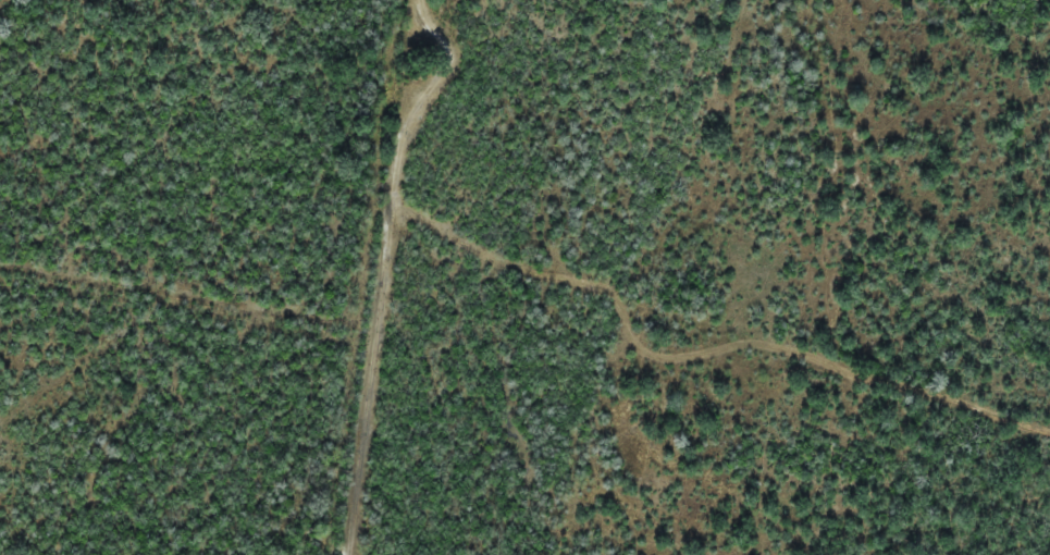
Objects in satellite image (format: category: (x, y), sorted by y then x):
road: (390, 263)

